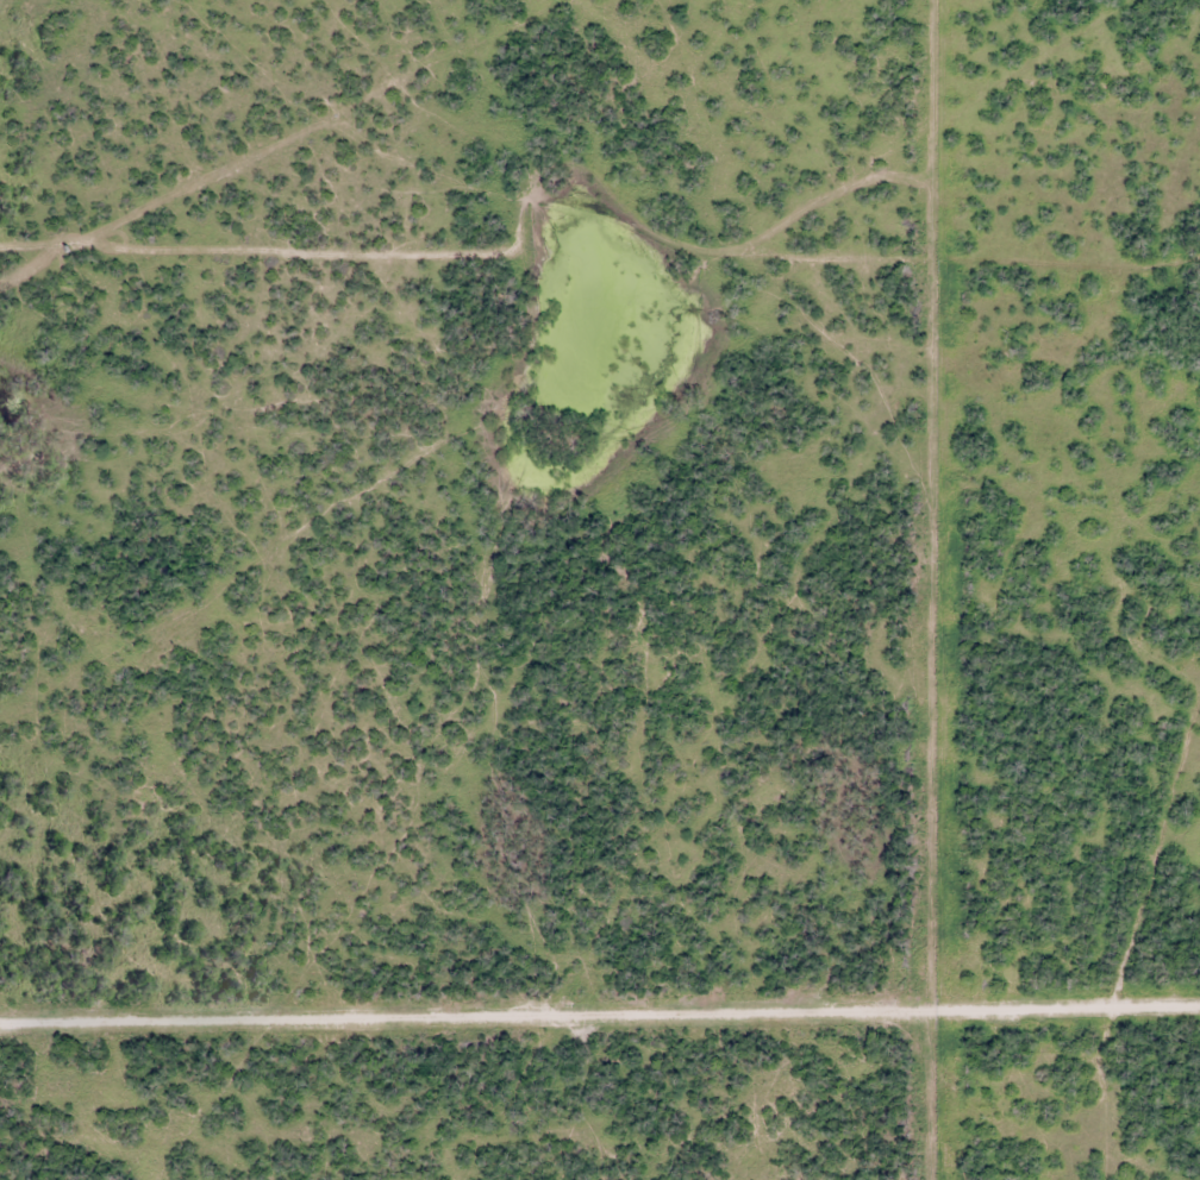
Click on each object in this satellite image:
road: (600, 1019)

